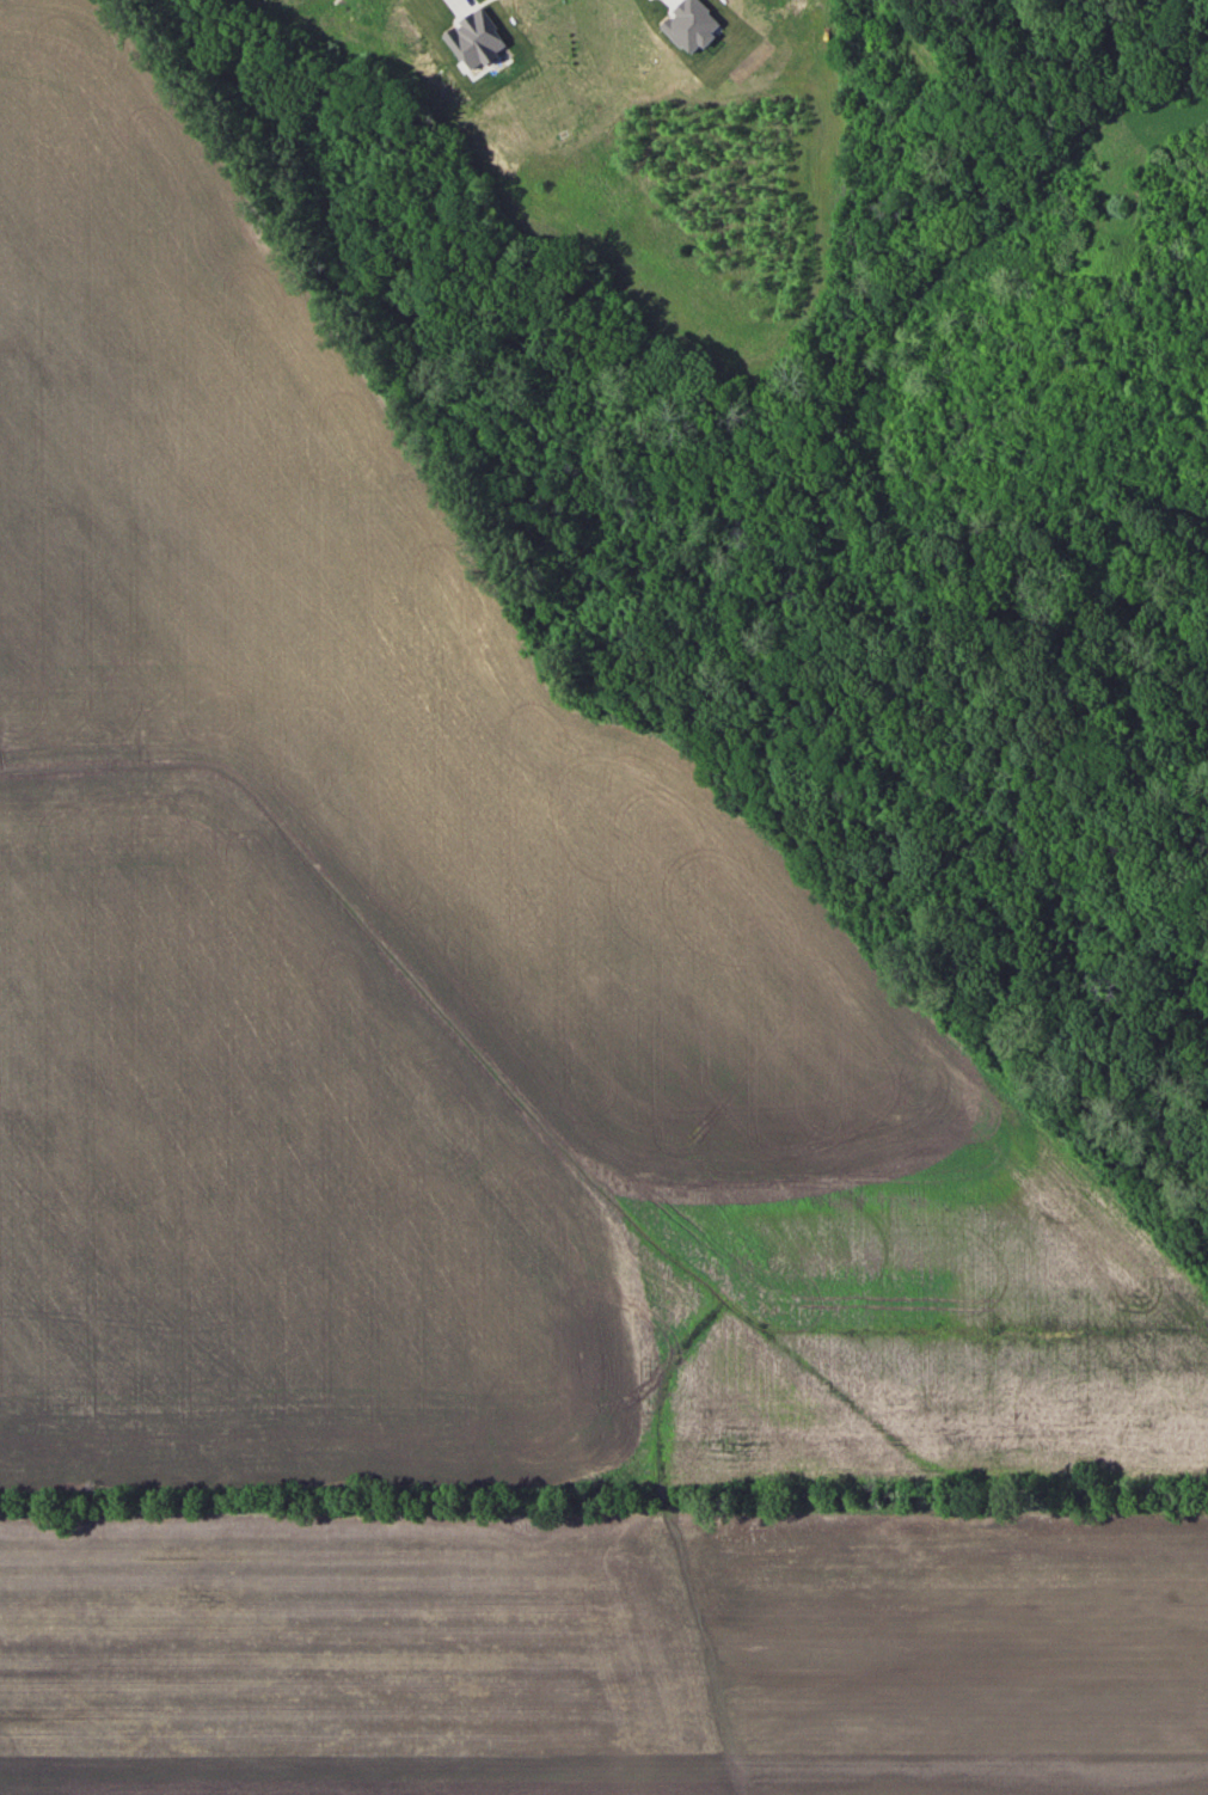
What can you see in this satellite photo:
road: (461, 6)
road: (474, 6)
building: (685, 24)
building: (471, 38)

